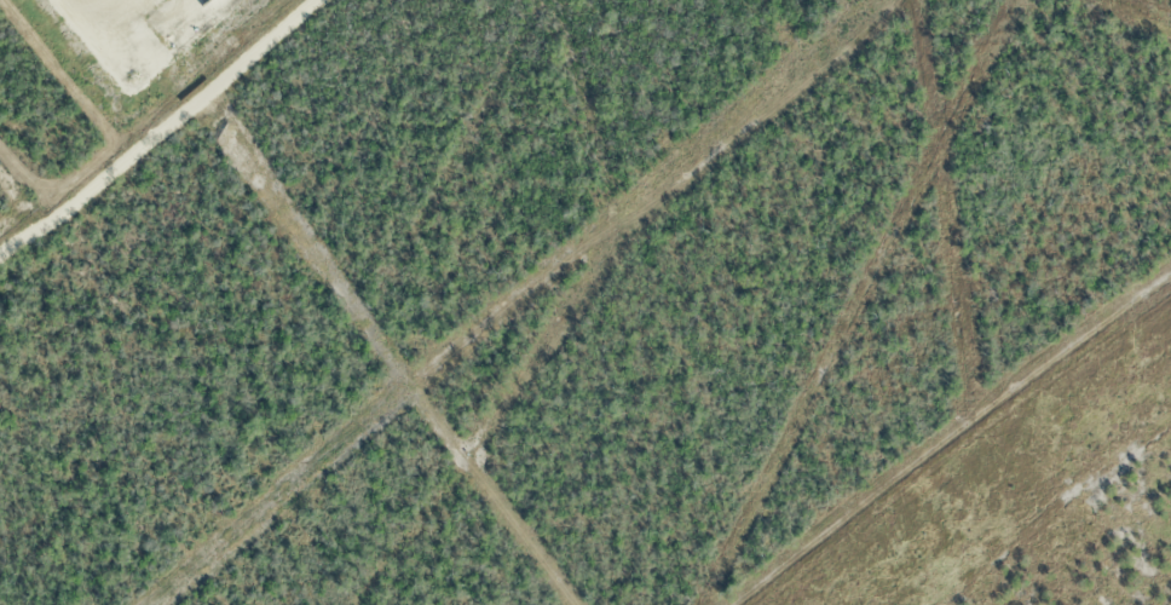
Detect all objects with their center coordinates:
road: (161, 128)

